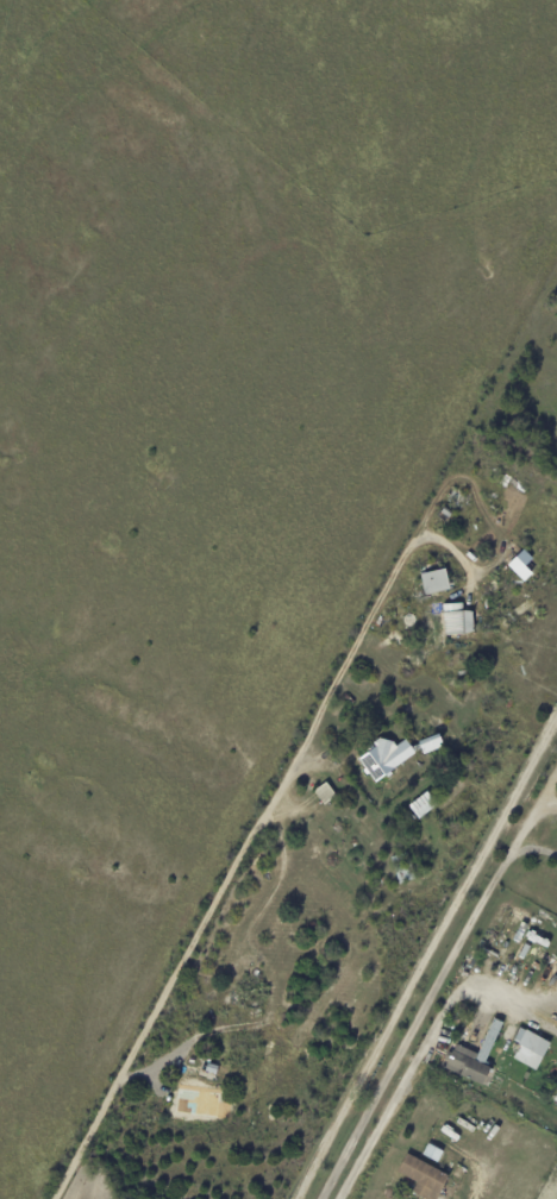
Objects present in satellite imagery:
building: (437, 580)
building: (455, 622)
building: (395, 755)
building: (326, 793)
road: (255, 834)
building: (403, 868)
building: (530, 936)
road: (425, 960)
road: (430, 993)
building: (453, 1027)
road: (425, 1048)
building: (528, 1048)
building: (475, 1057)
building: (508, 1097)
building: (431, 1154)
building: (425, 1178)

